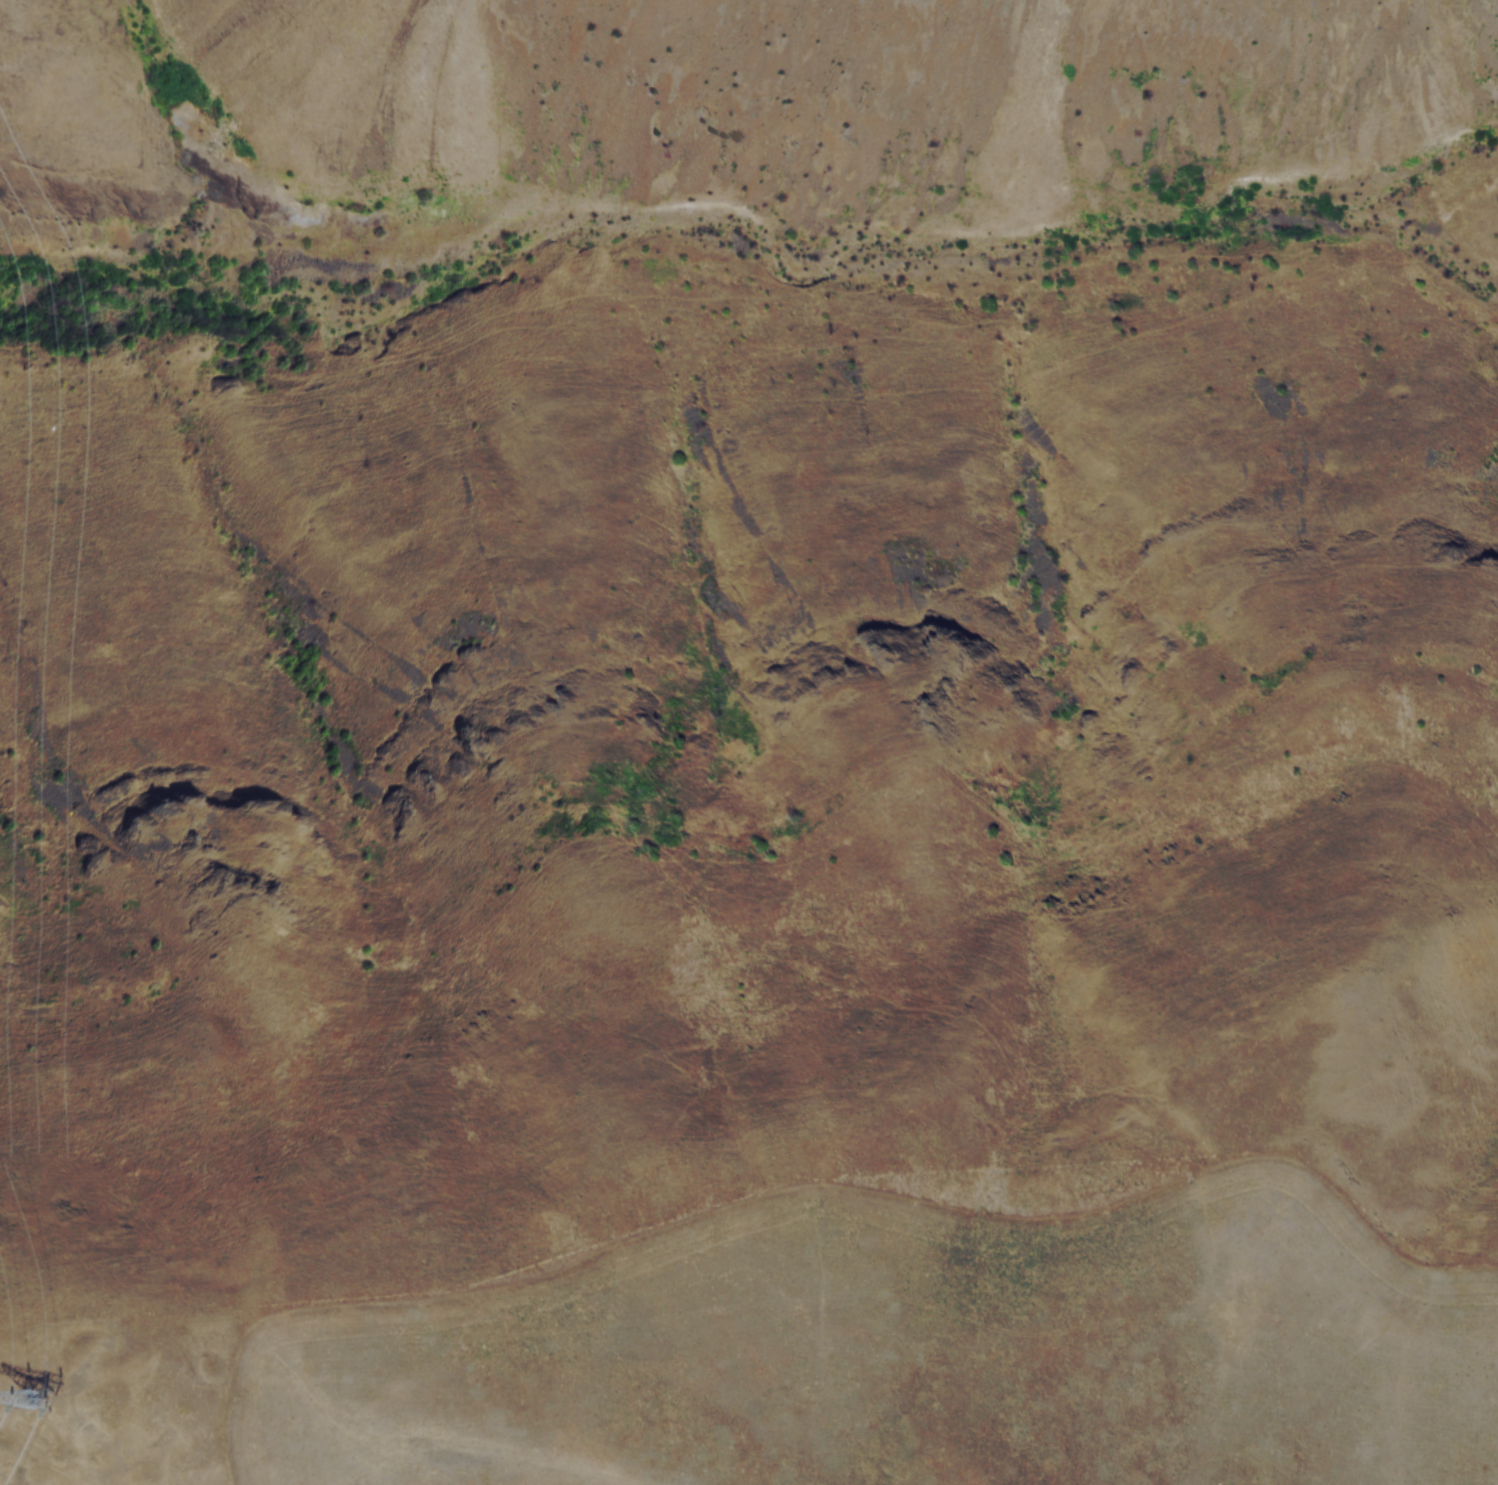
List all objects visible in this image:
power tower: (49, 1410)

